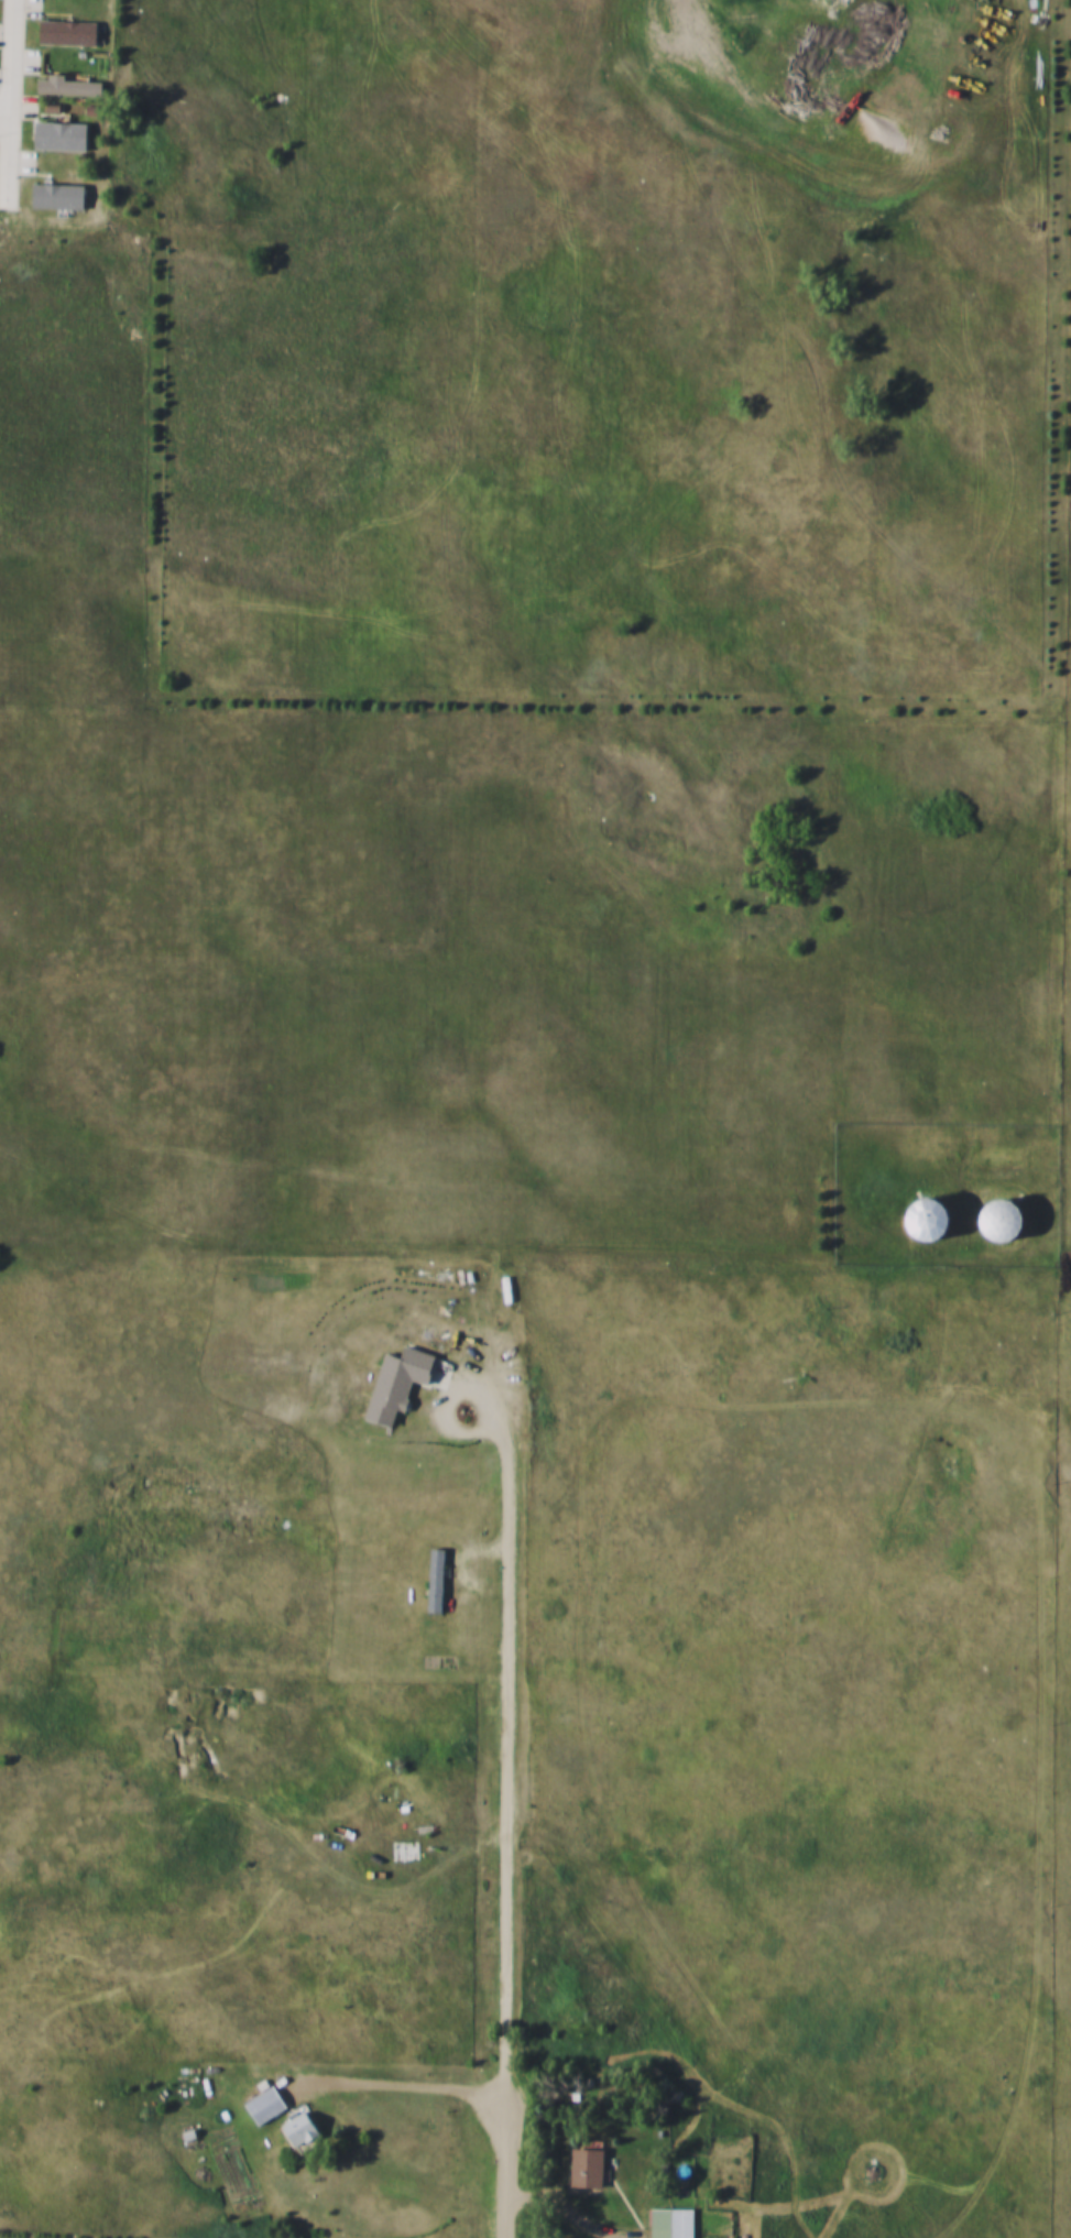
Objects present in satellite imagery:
road: (0, 22)
road: (777, 72)
building: (922, 1218)
building: (993, 1220)
building: (434, 1579)
road: (408, 2082)
building: (263, 2105)
building: (297, 2128)
road: (509, 2162)
building: (583, 2168)
road: (575, 2207)
building: (669, 2223)

